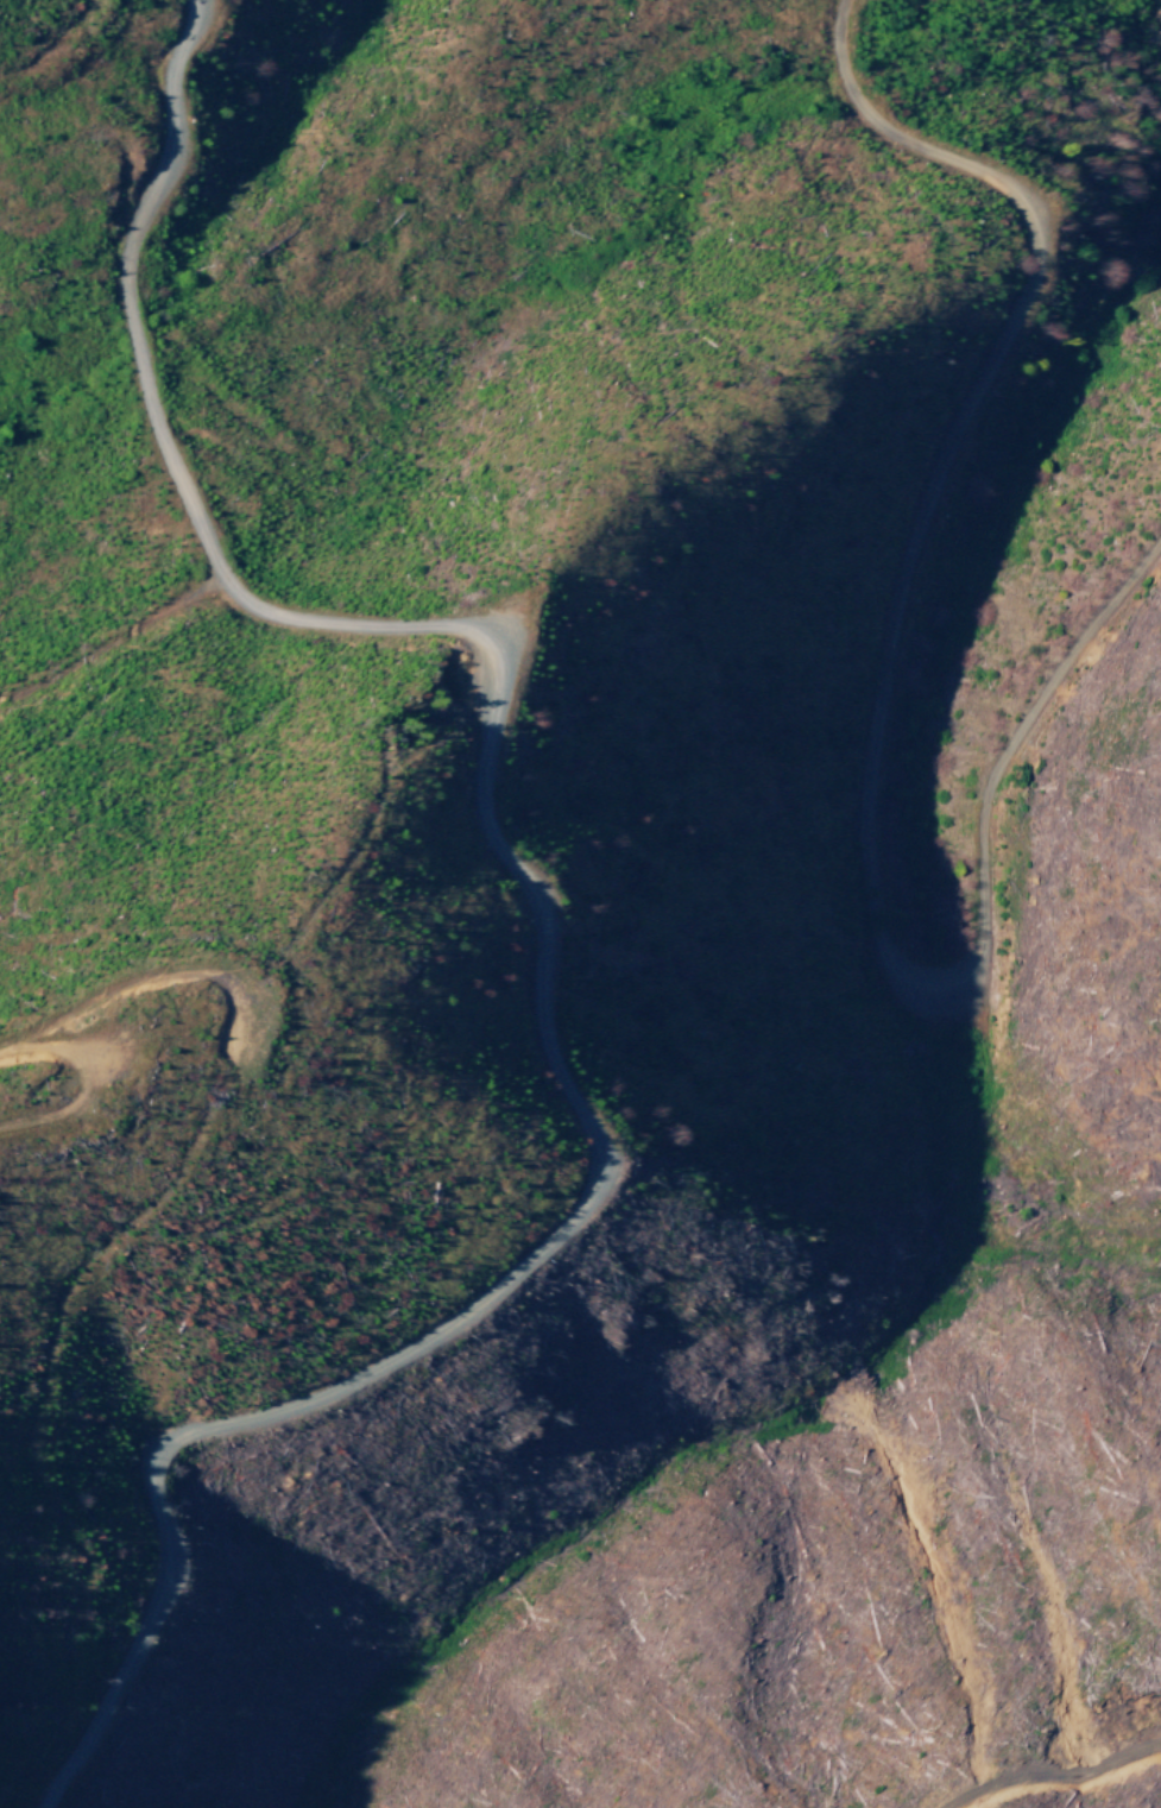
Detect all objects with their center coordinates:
road: (105, 631)
road: (876, 706)
road: (536, 914)

